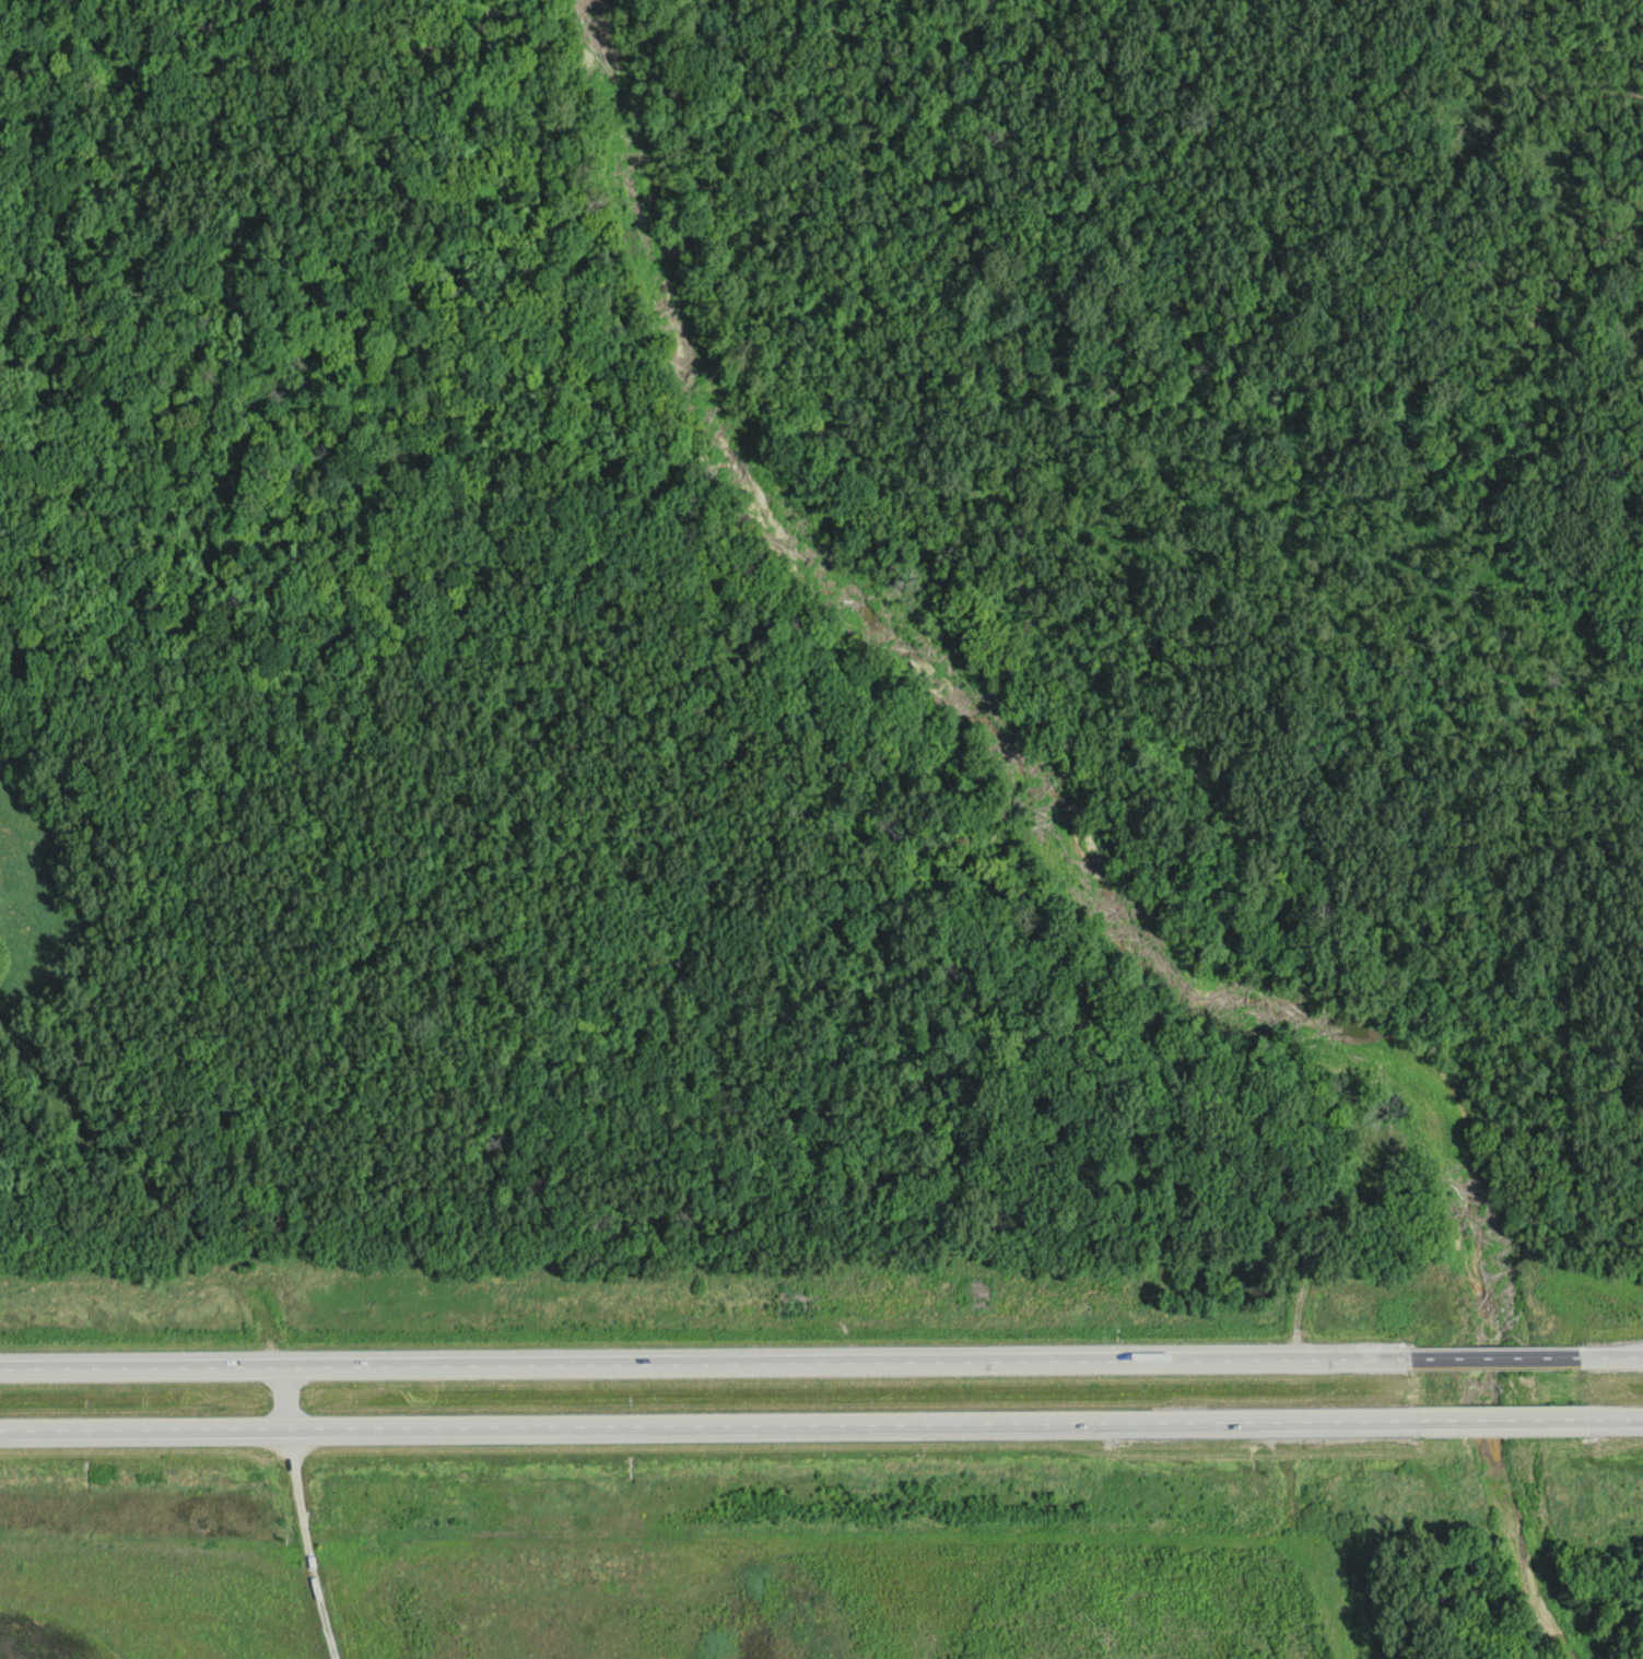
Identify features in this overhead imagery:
river: (1105, 843)
road: (1609, 1363)
road: (1491, 1365)
road: (703, 1367)
road: (1616, 1421)
road: (1499, 1422)
road: (704, 1431)
road: (301, 1515)

